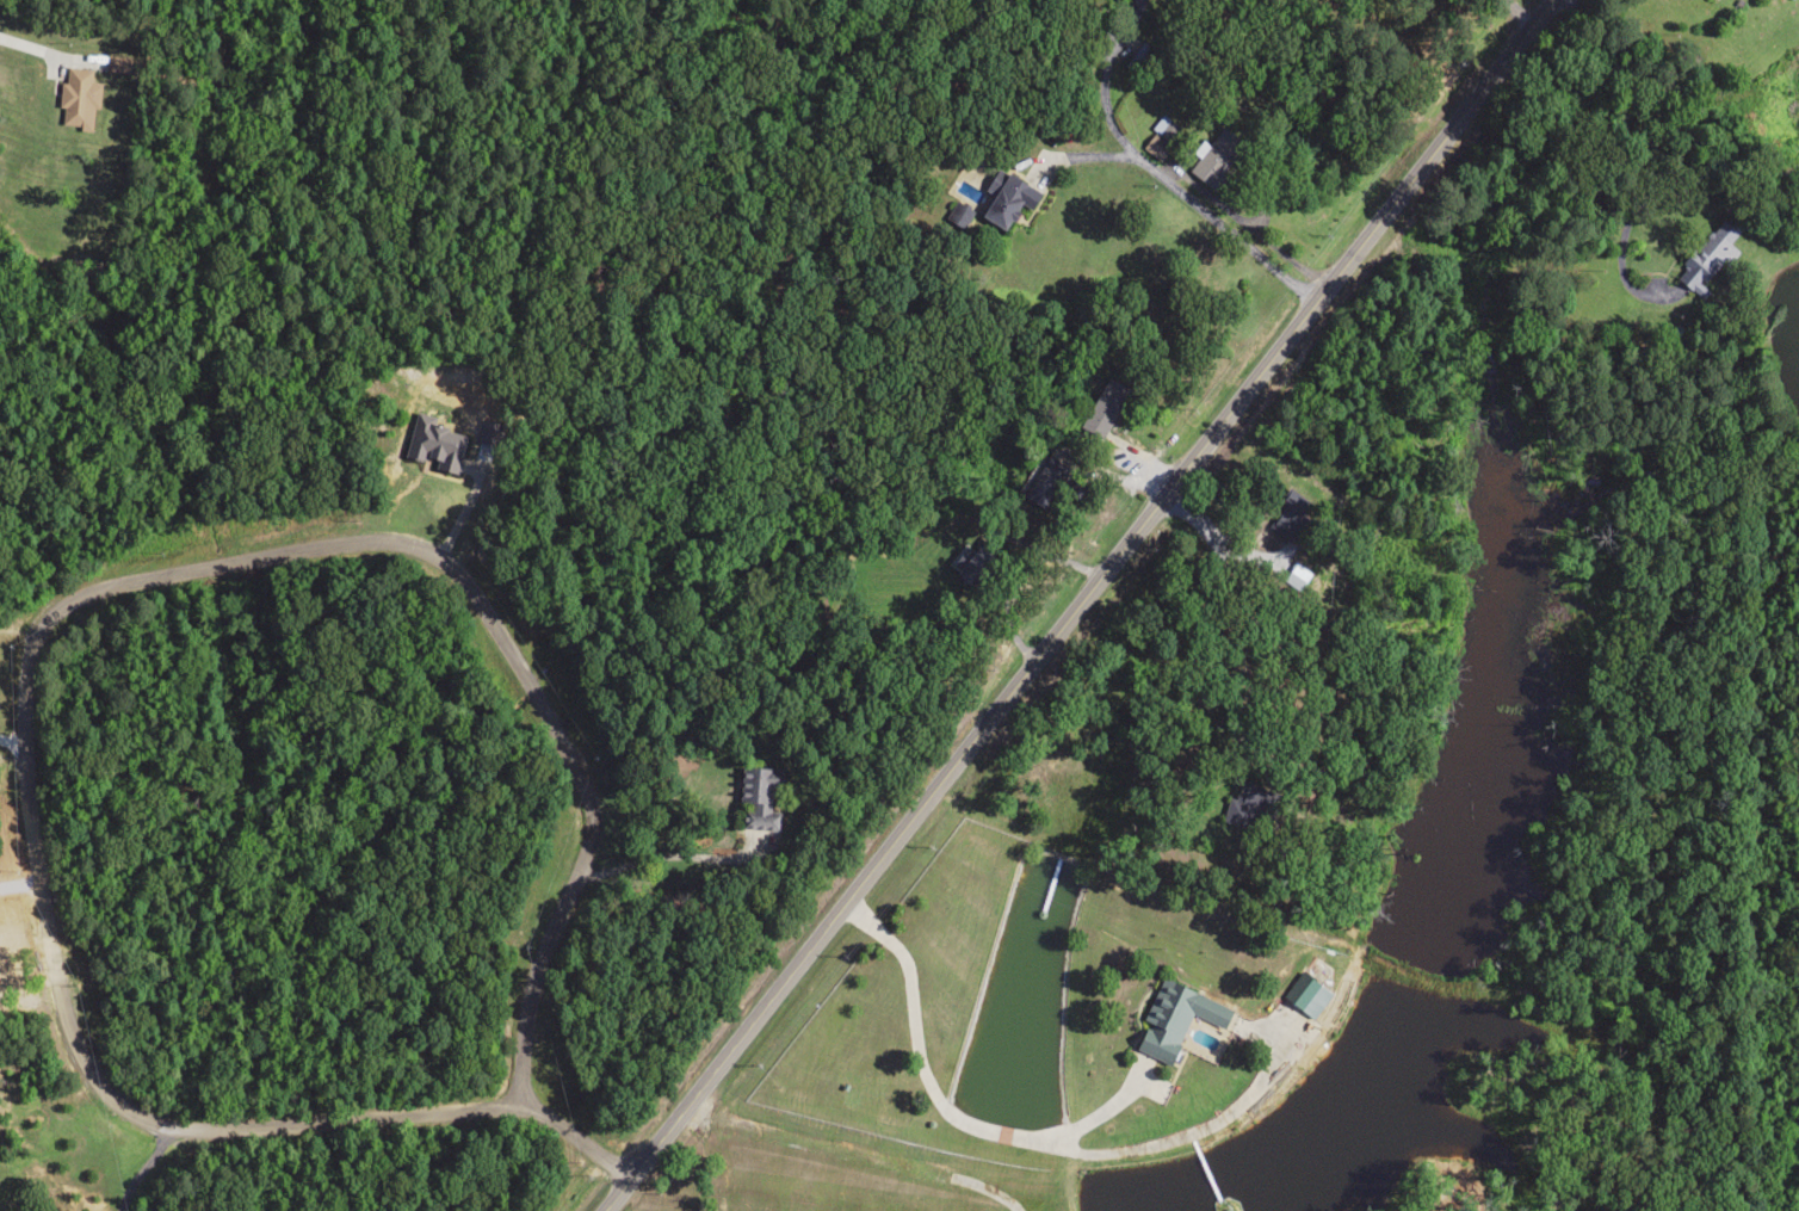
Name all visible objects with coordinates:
building: (1136, 57)
road: (1374, 68)
building: (1163, 129)
road: (1157, 130)
building: (1213, 159)
building: (1003, 198)
building: (1708, 253)
building: (1102, 408)
building: (434, 446)
building: (1038, 482)
road: (975, 561)
building: (972, 563)
road: (1371, 563)
road: (1094, 605)
road: (373, 753)
building: (758, 798)
building: (1241, 804)
building: (1304, 995)
road: (1001, 1012)
building: (1173, 1019)
road: (821, 1141)

